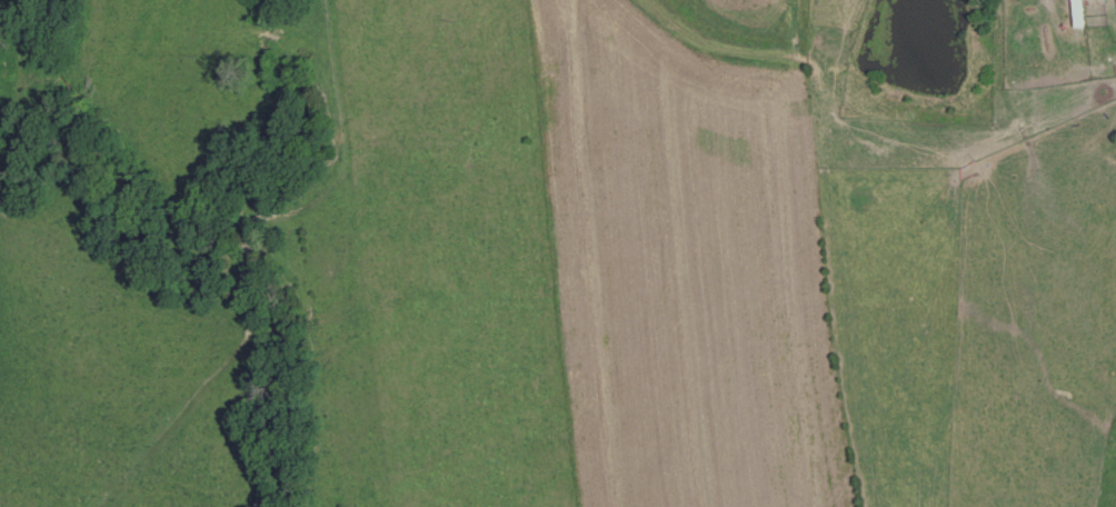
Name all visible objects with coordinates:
building: (1094, 3)

